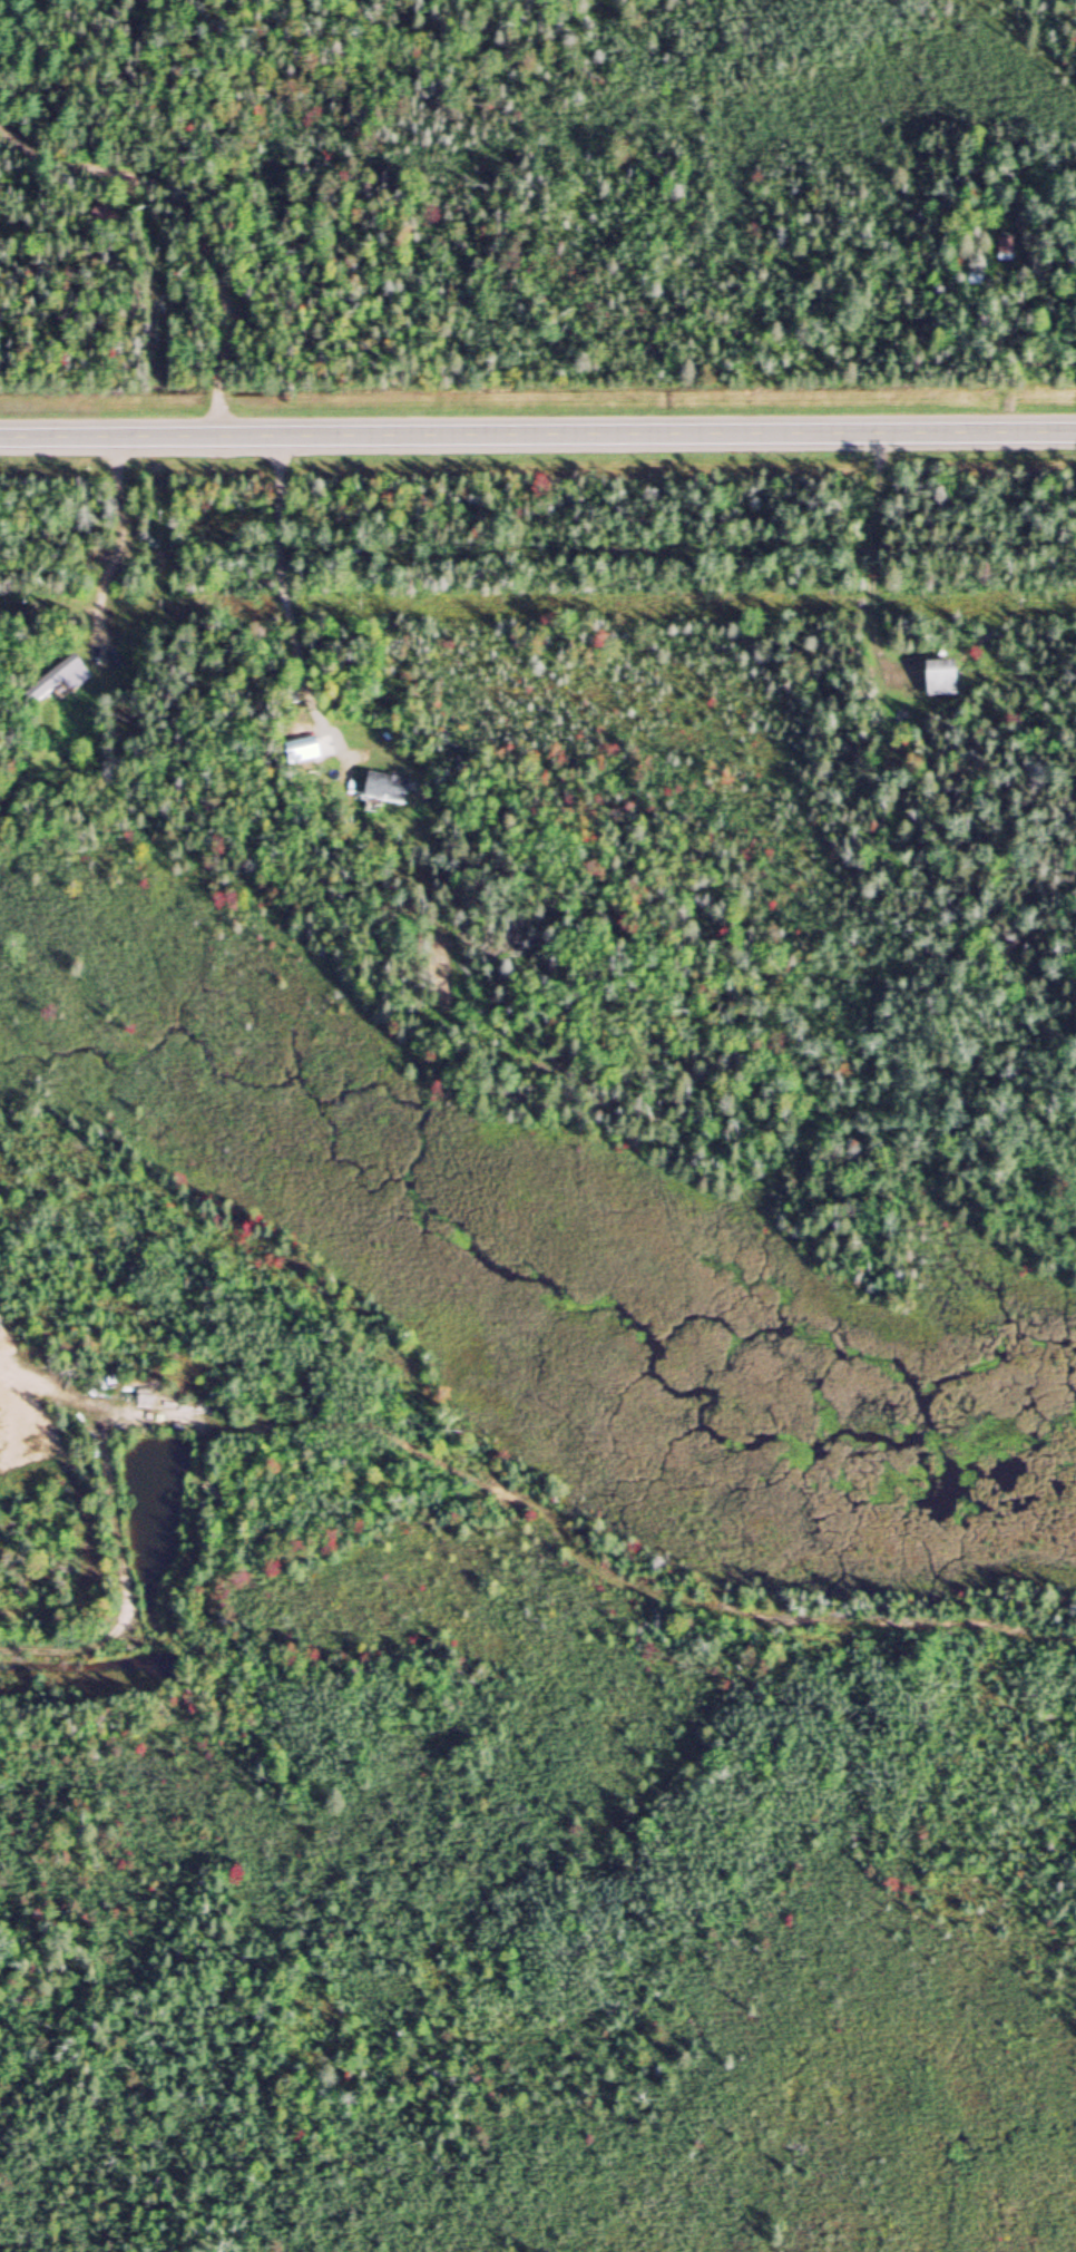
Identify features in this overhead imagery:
building: (99, 214)
building: (1004, 244)
road: (538, 428)
building: (55, 677)
building: (939, 677)
building: (356, 745)
building: (383, 789)

